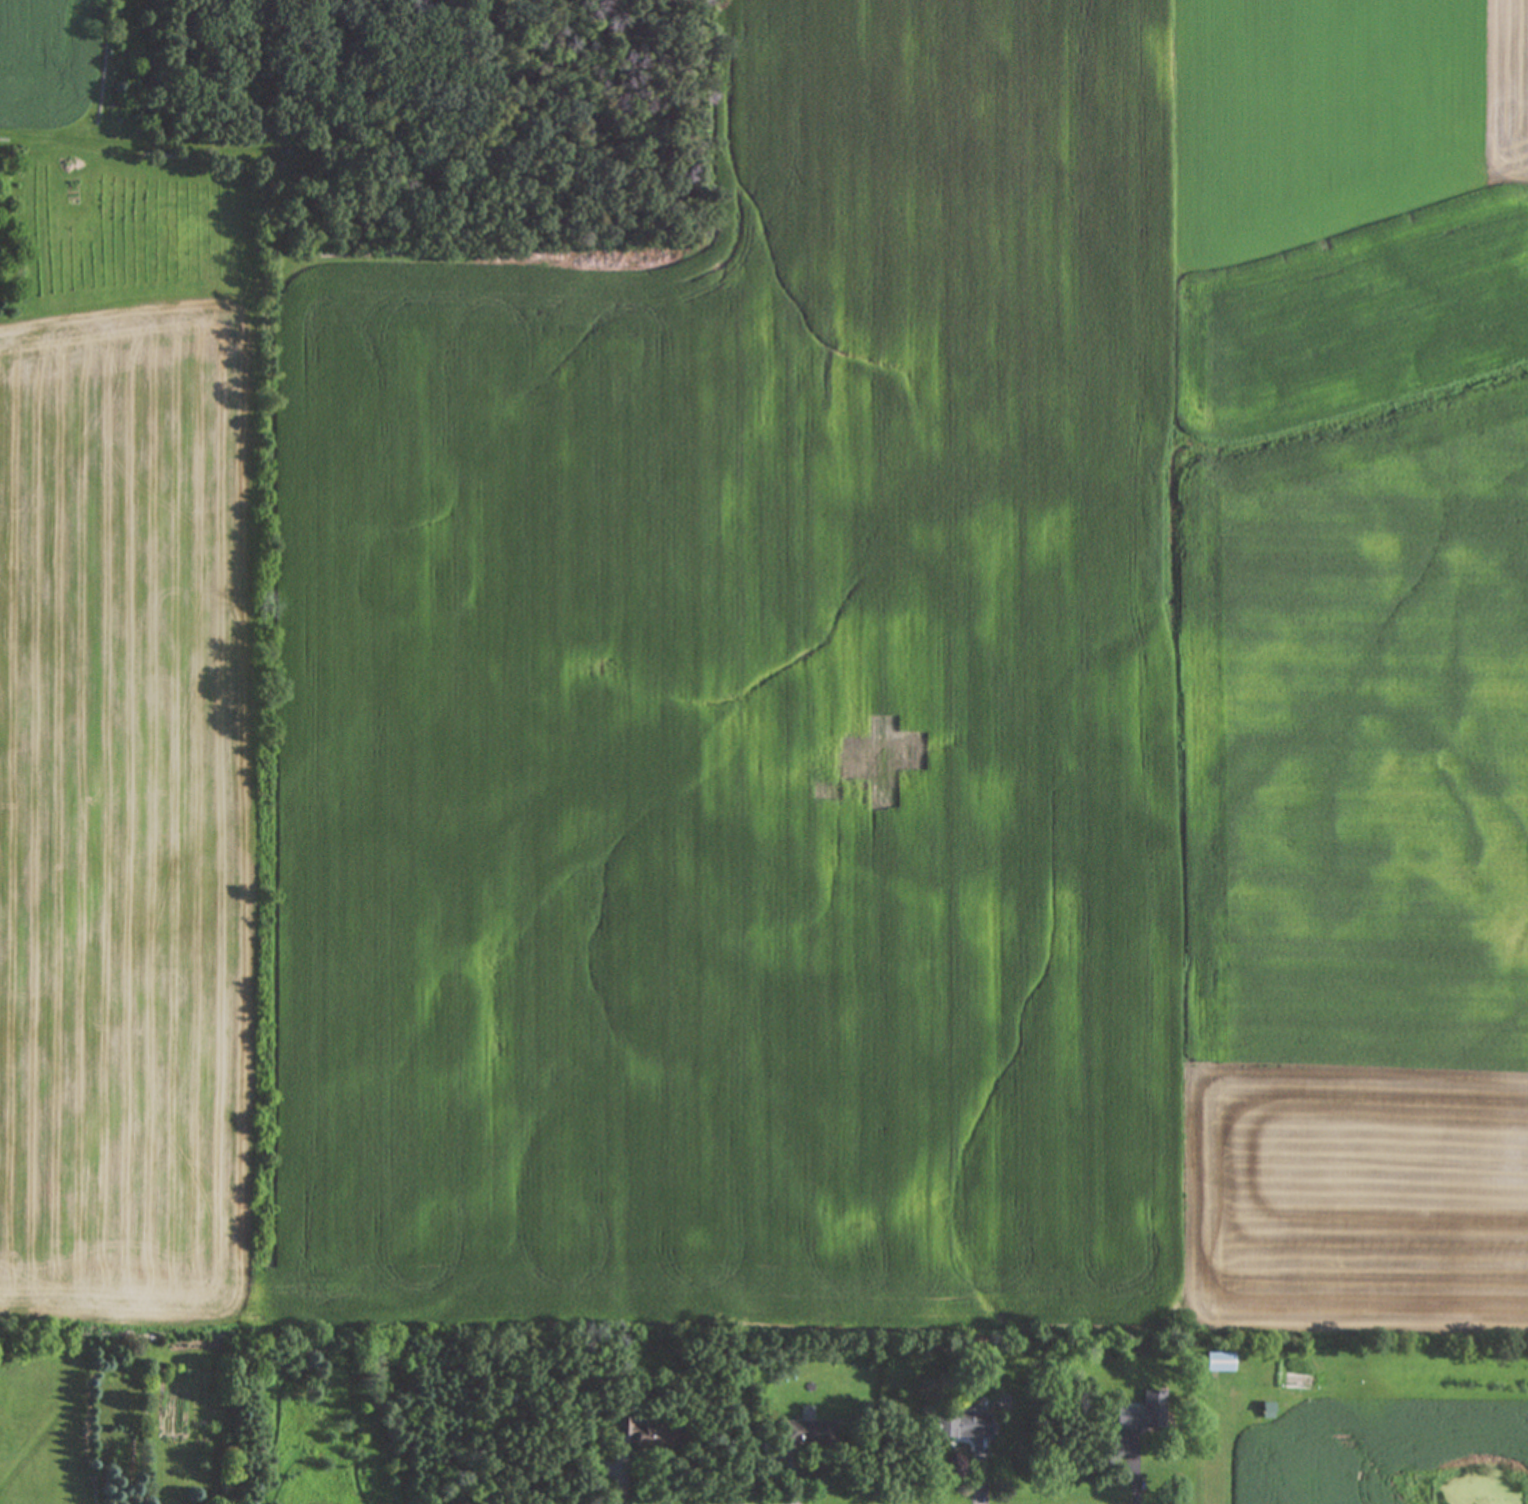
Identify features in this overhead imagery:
building: (1220, 1362)
building: (1145, 1413)
building: (963, 1424)
building: (644, 1432)
building: (809, 1432)

